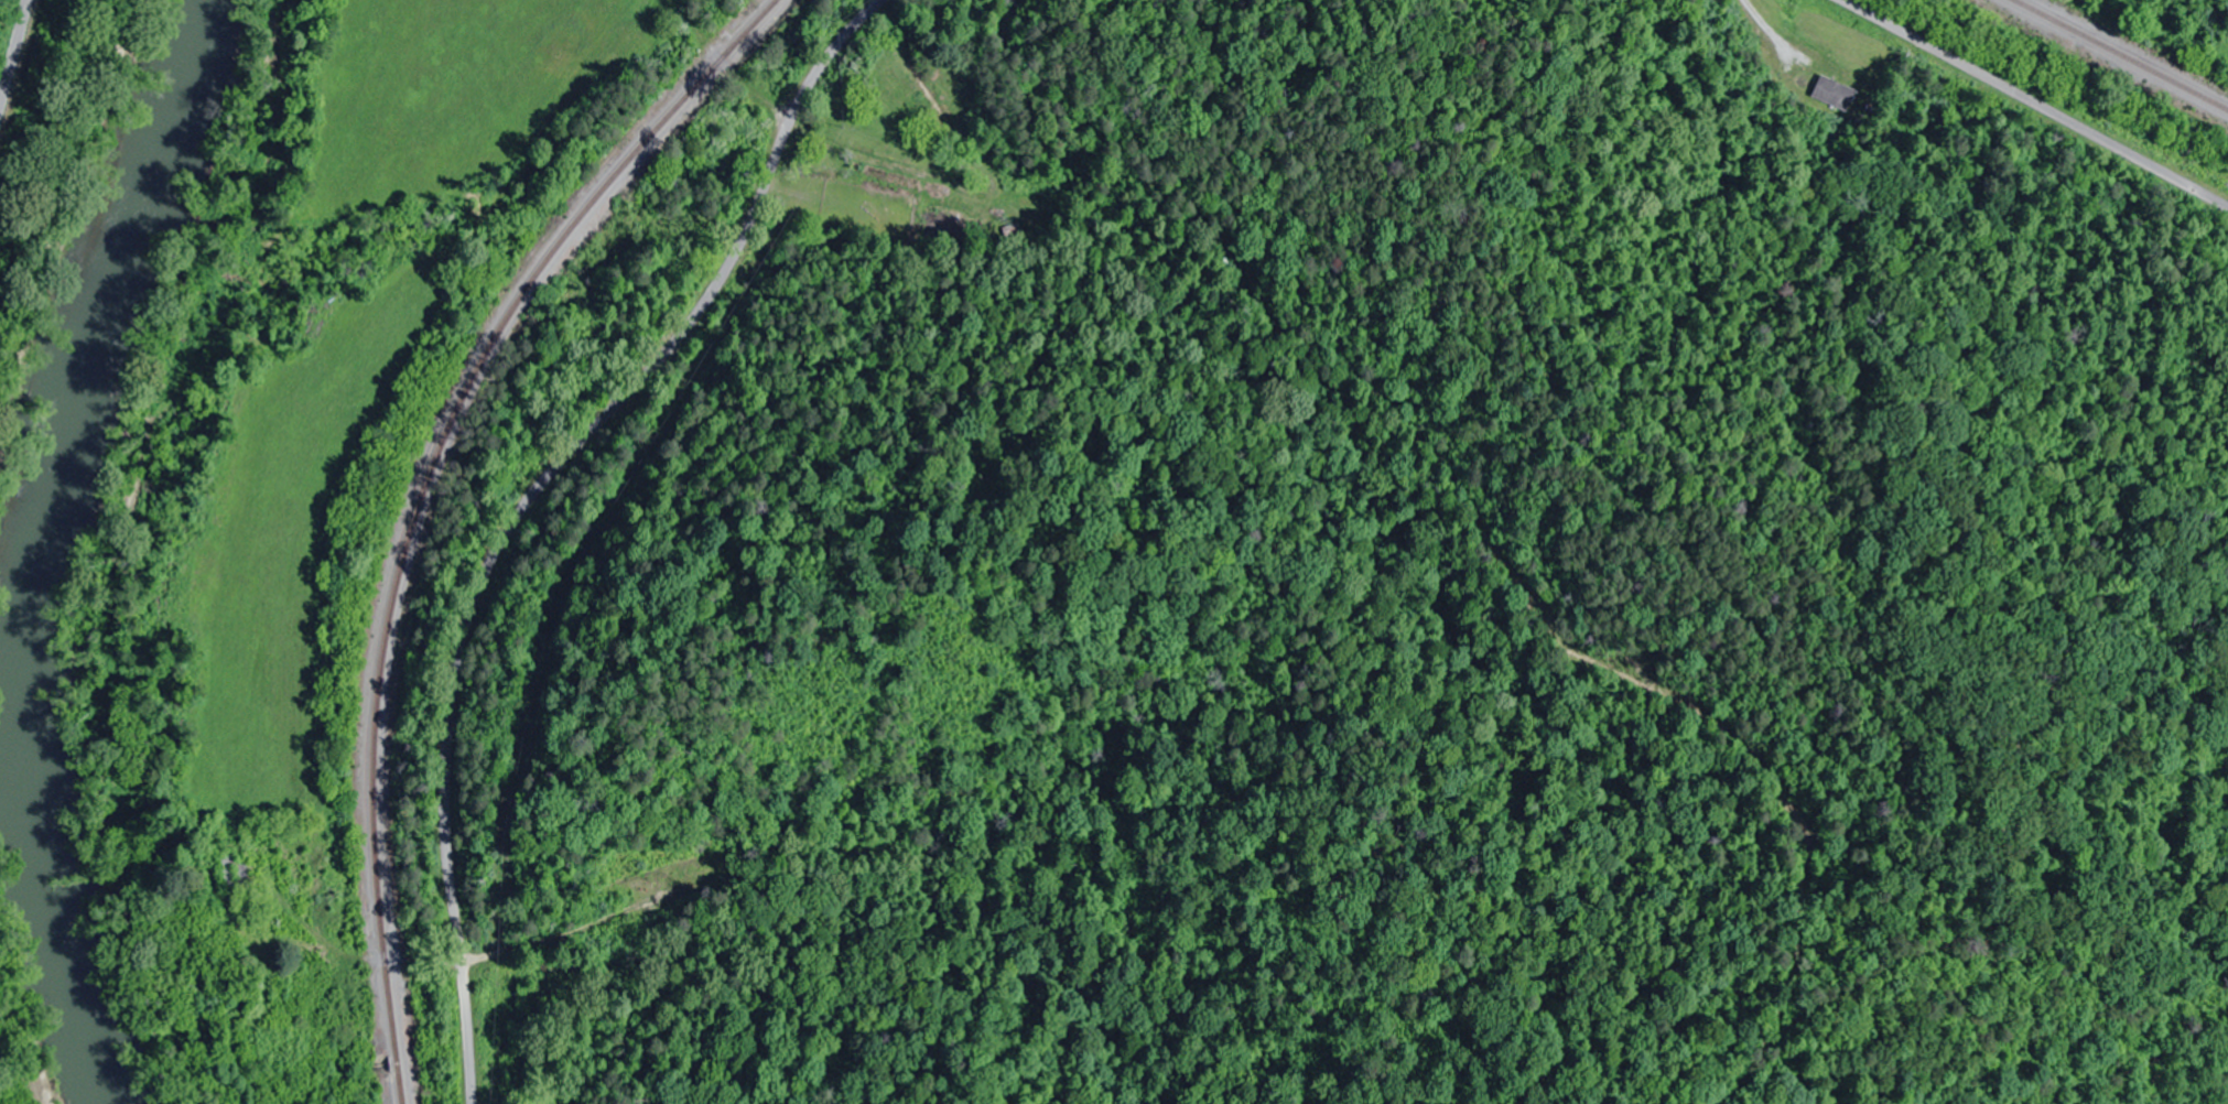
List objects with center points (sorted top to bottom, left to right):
railway: (2119, 55)
road: (19, 65)
building: (1836, 94)
road: (2030, 108)
railway: (422, 495)
road: (534, 501)
river: (47, 545)
building: (235, 867)
building: (282, 1052)

